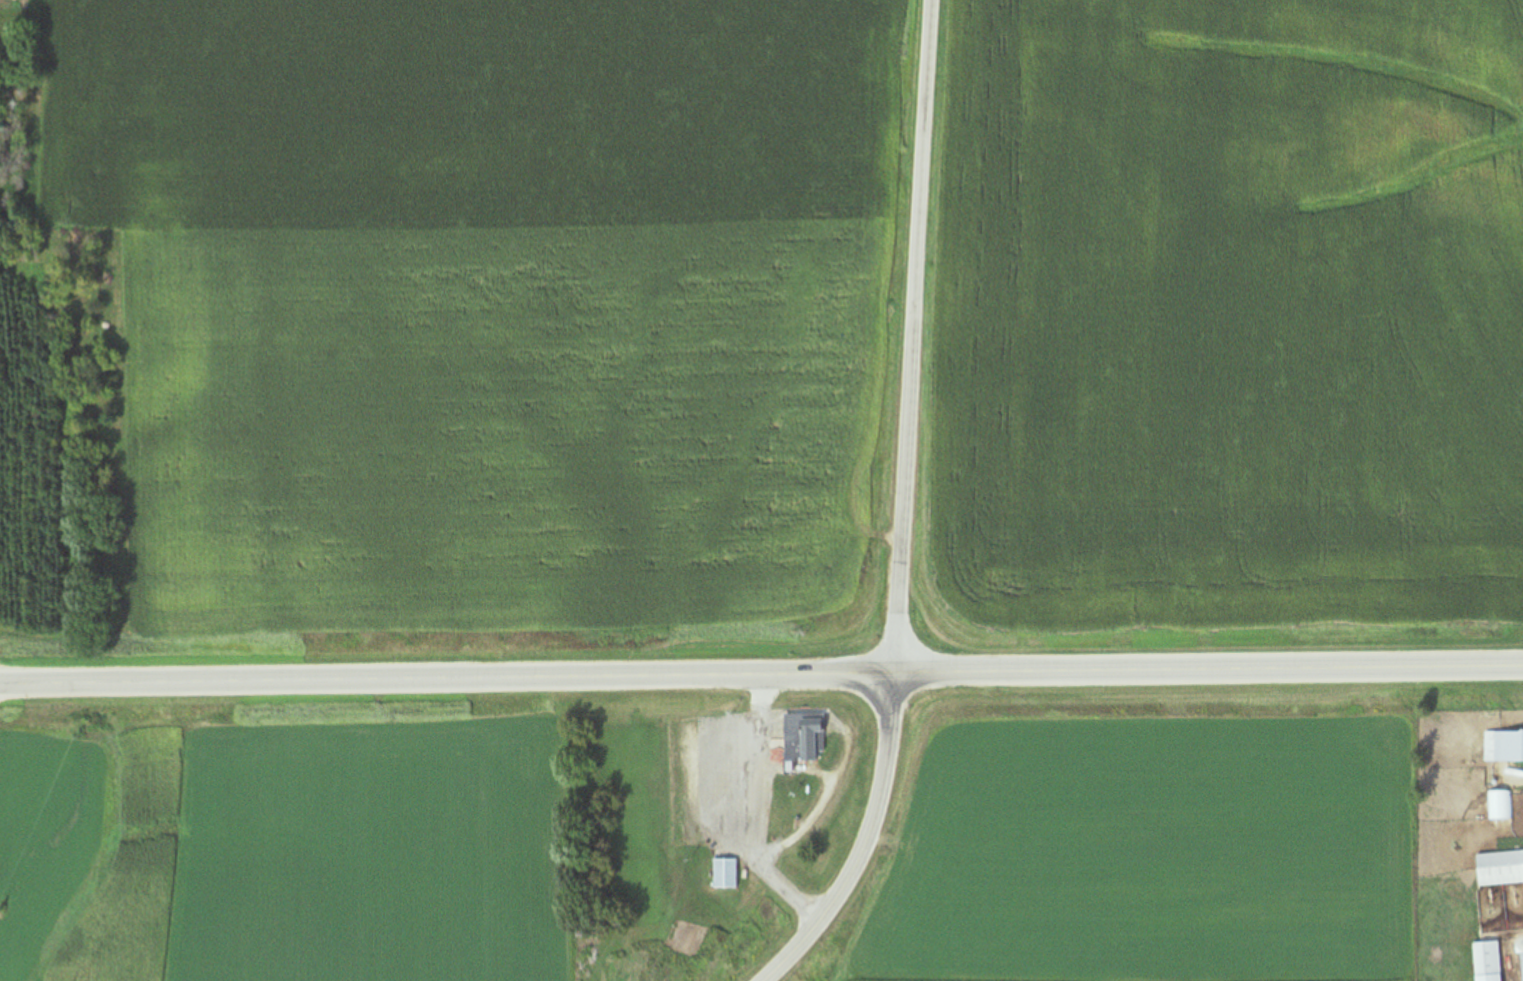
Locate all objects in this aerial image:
road: (913, 337)
road: (761, 676)
building: (802, 736)
building: (1503, 746)
building: (1501, 804)
road: (757, 812)
road: (866, 842)
building: (1500, 867)
building: (725, 873)
building: (1487, 961)

